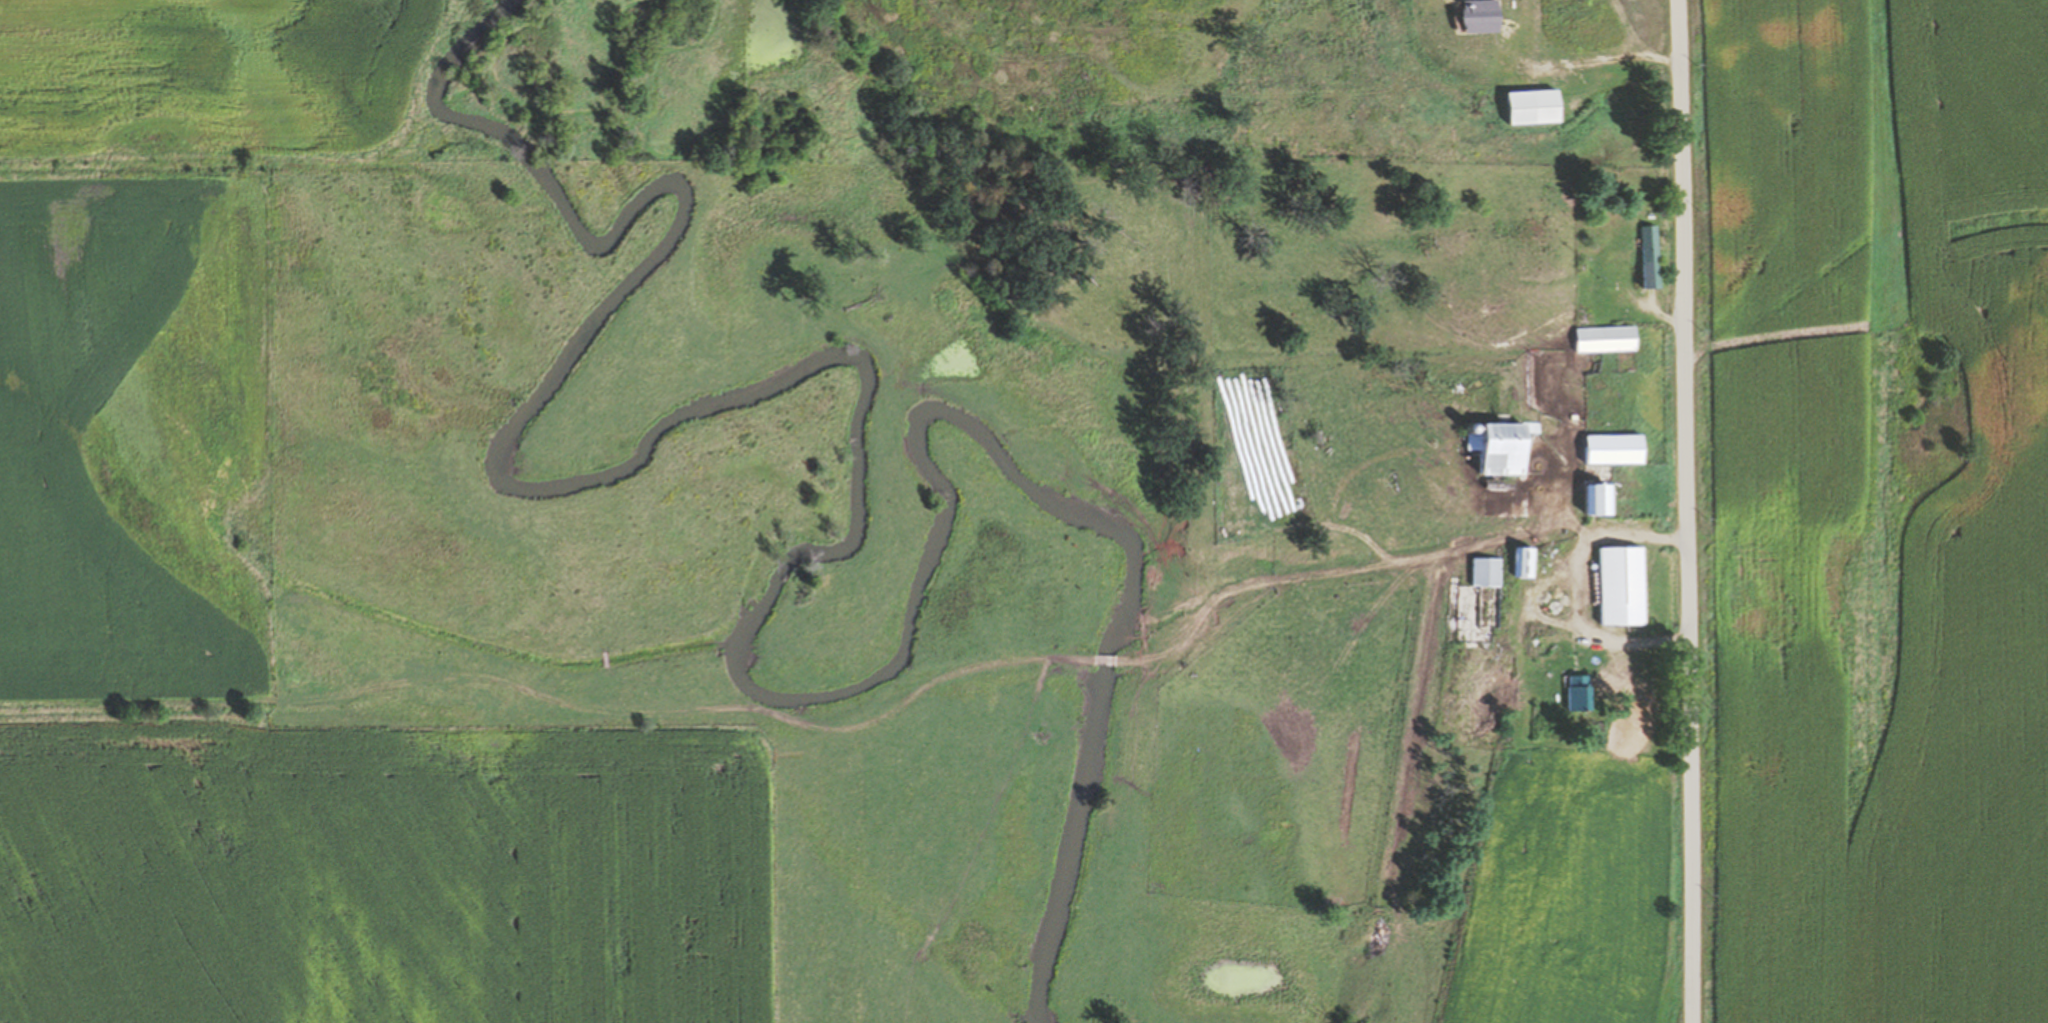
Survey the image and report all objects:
building: (1590, 32)
building: (1538, 106)
building: (1654, 257)
building: (1609, 339)
building: (1504, 448)
building: (1603, 498)
road: (1683, 511)
river: (847, 521)
building: (1525, 561)
building: (1487, 572)
building: (1625, 585)
building: (1387, 638)
building: (1580, 693)

